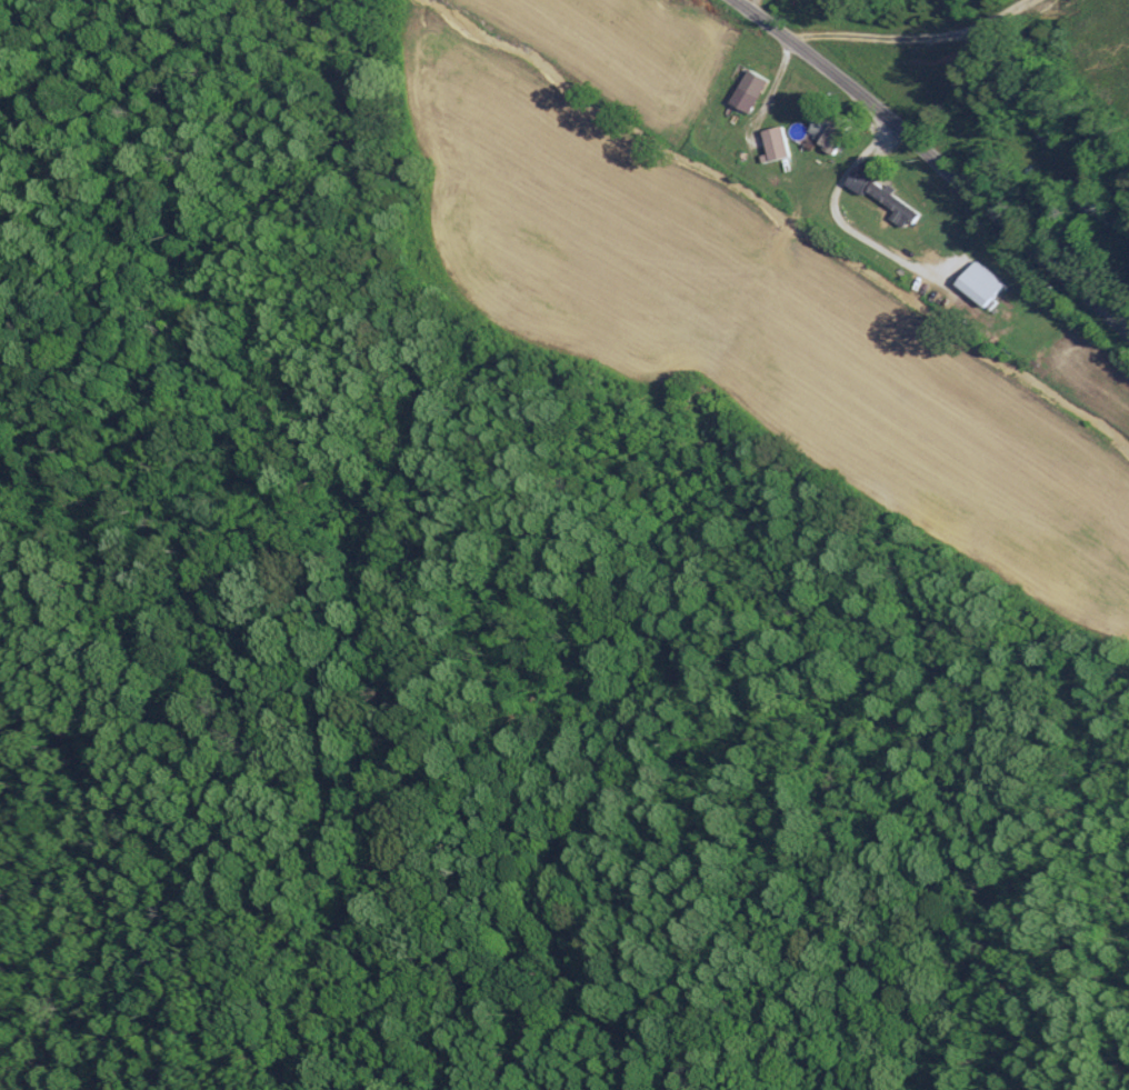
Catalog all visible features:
building: (753, 90)
building: (832, 131)
building: (780, 143)
road: (936, 161)
building: (889, 197)
building: (982, 283)

